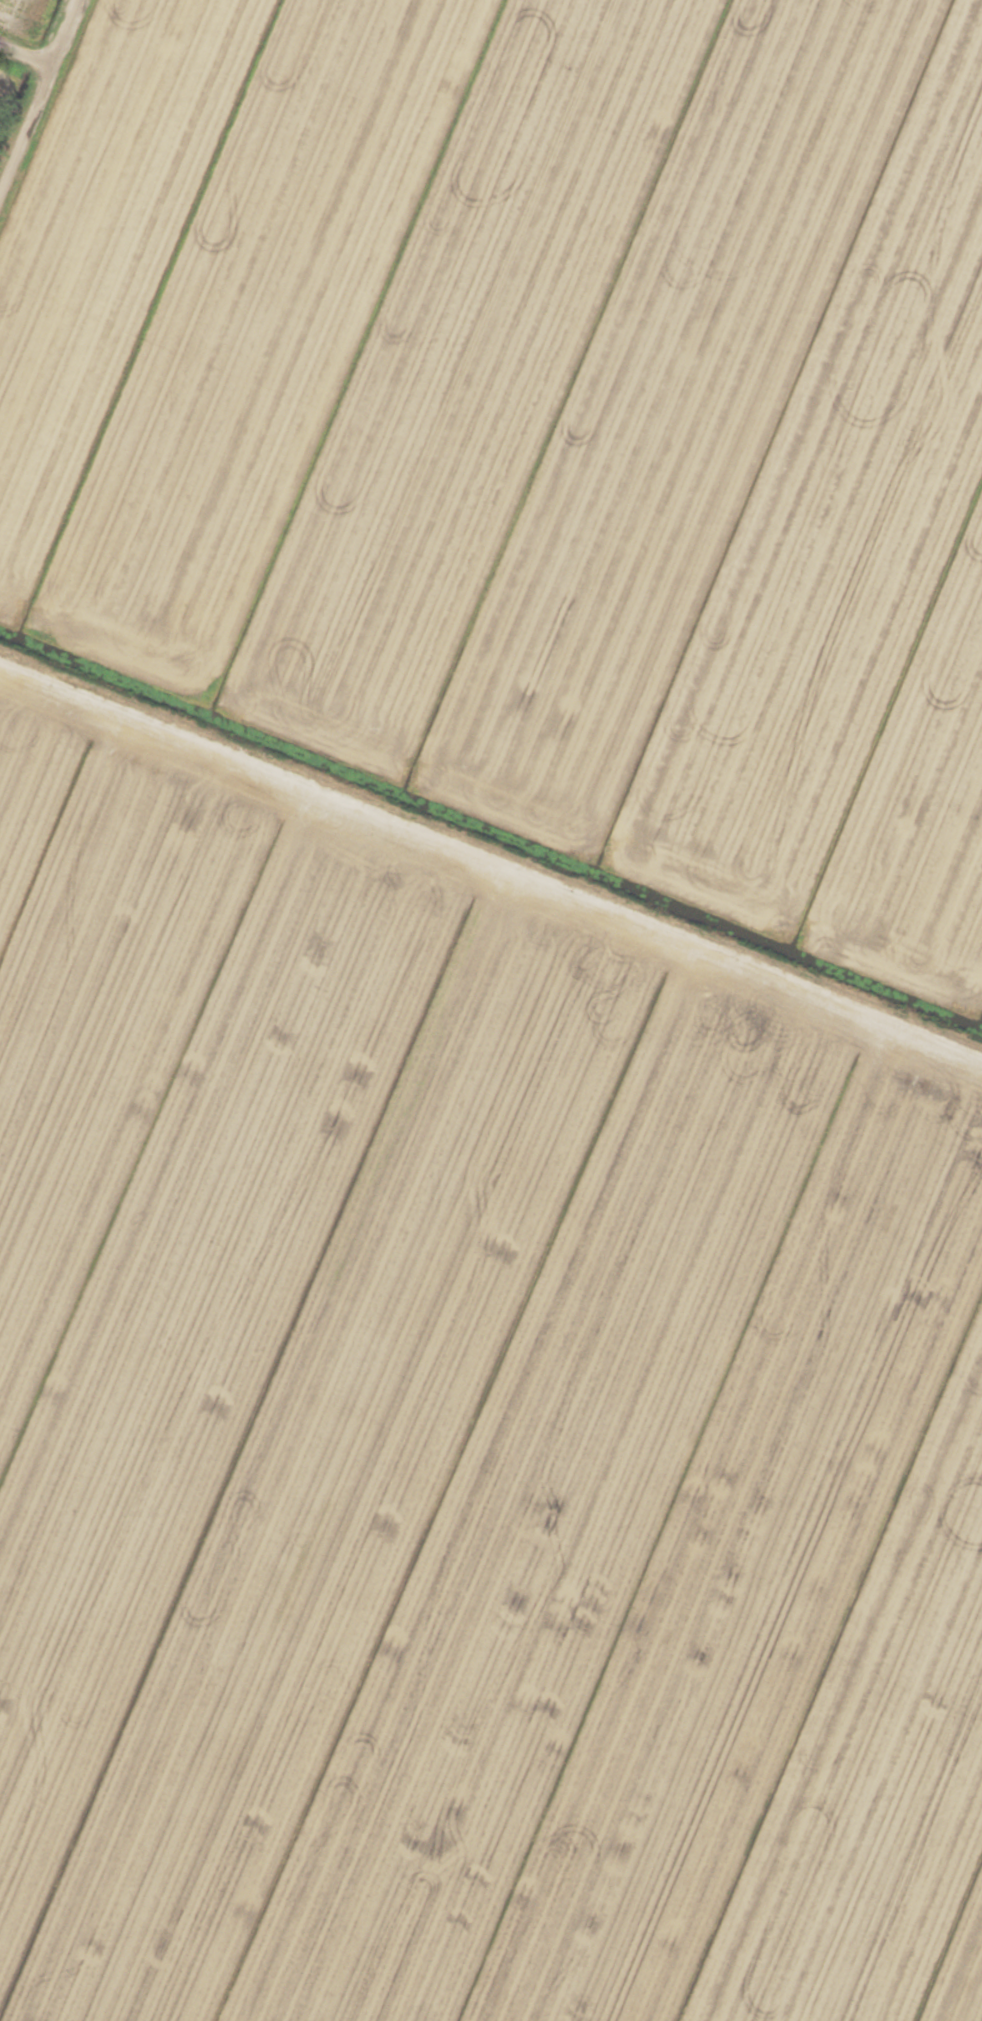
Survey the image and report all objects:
road: (27, 54)
road: (38, 105)
road: (491, 855)
crop: (491, 1010)

